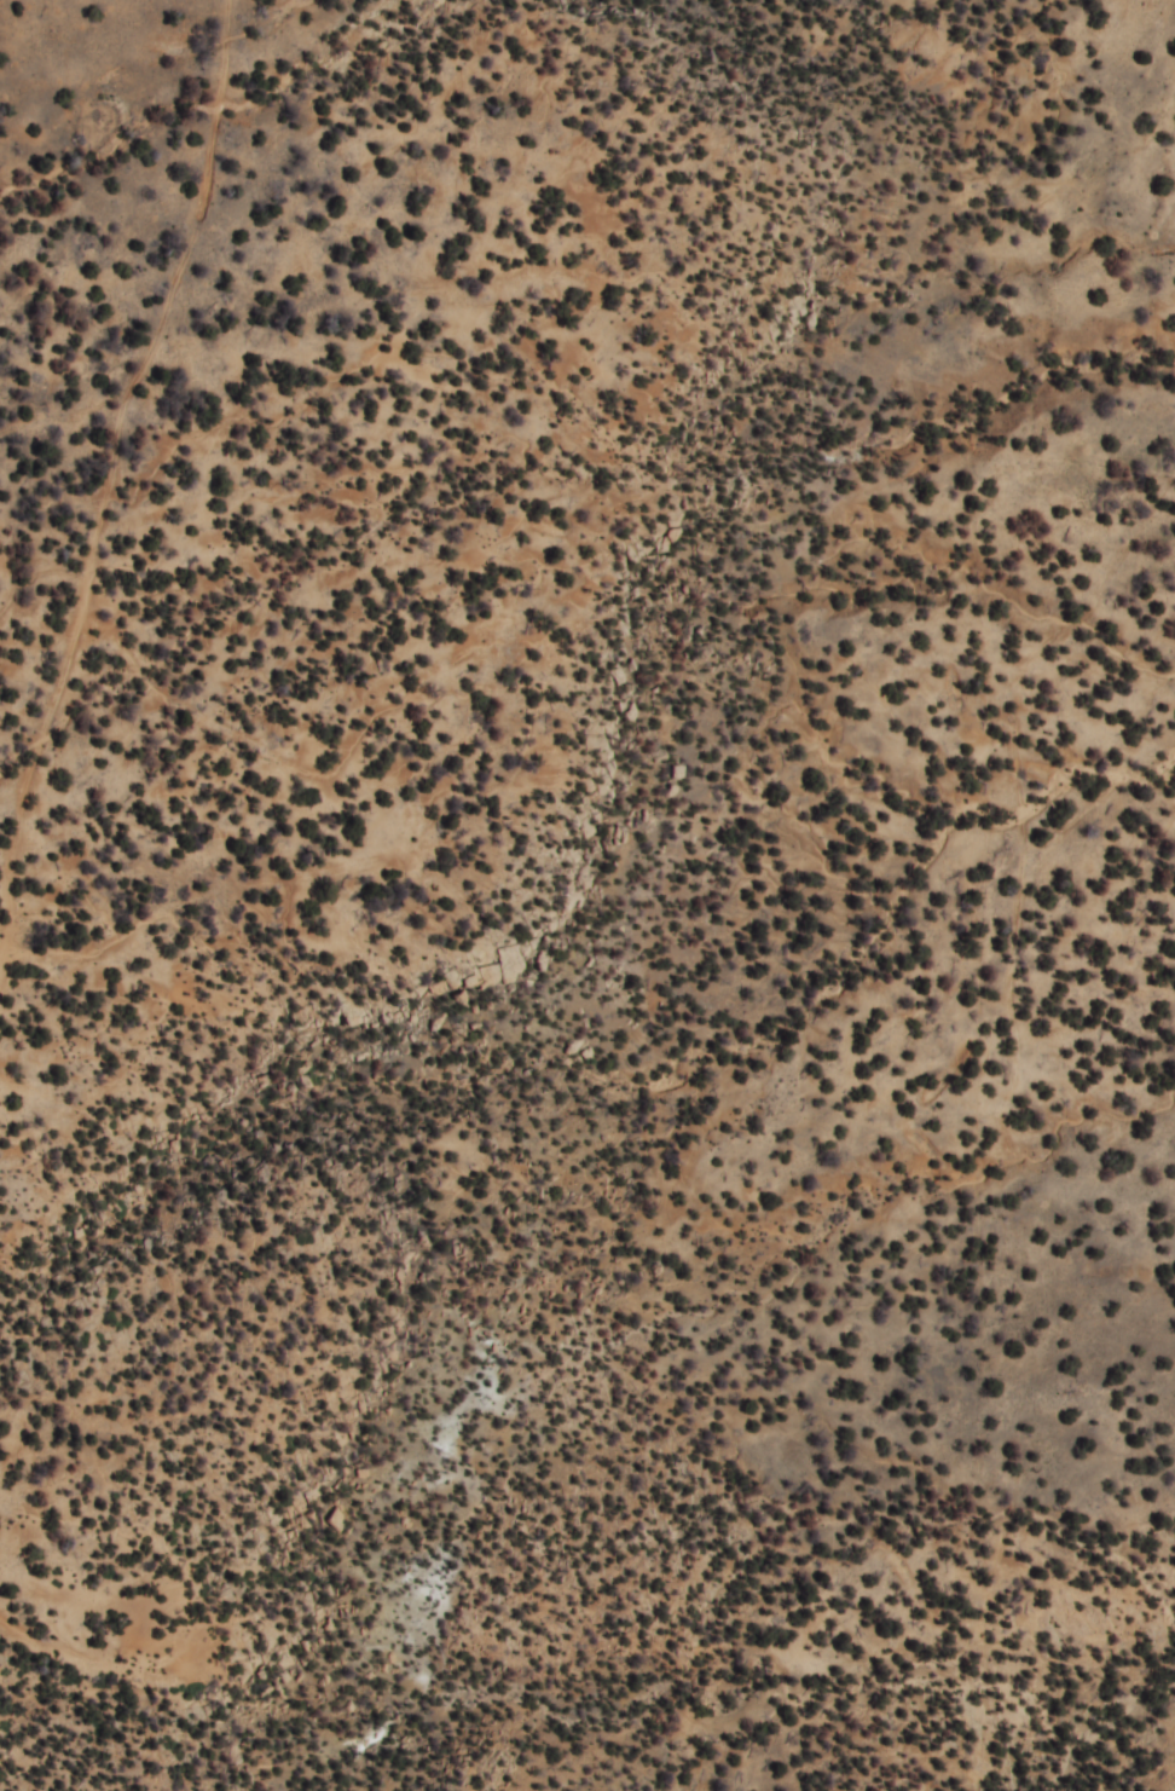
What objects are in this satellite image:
road: (397, 77)
road: (133, 654)
road: (928, 826)

